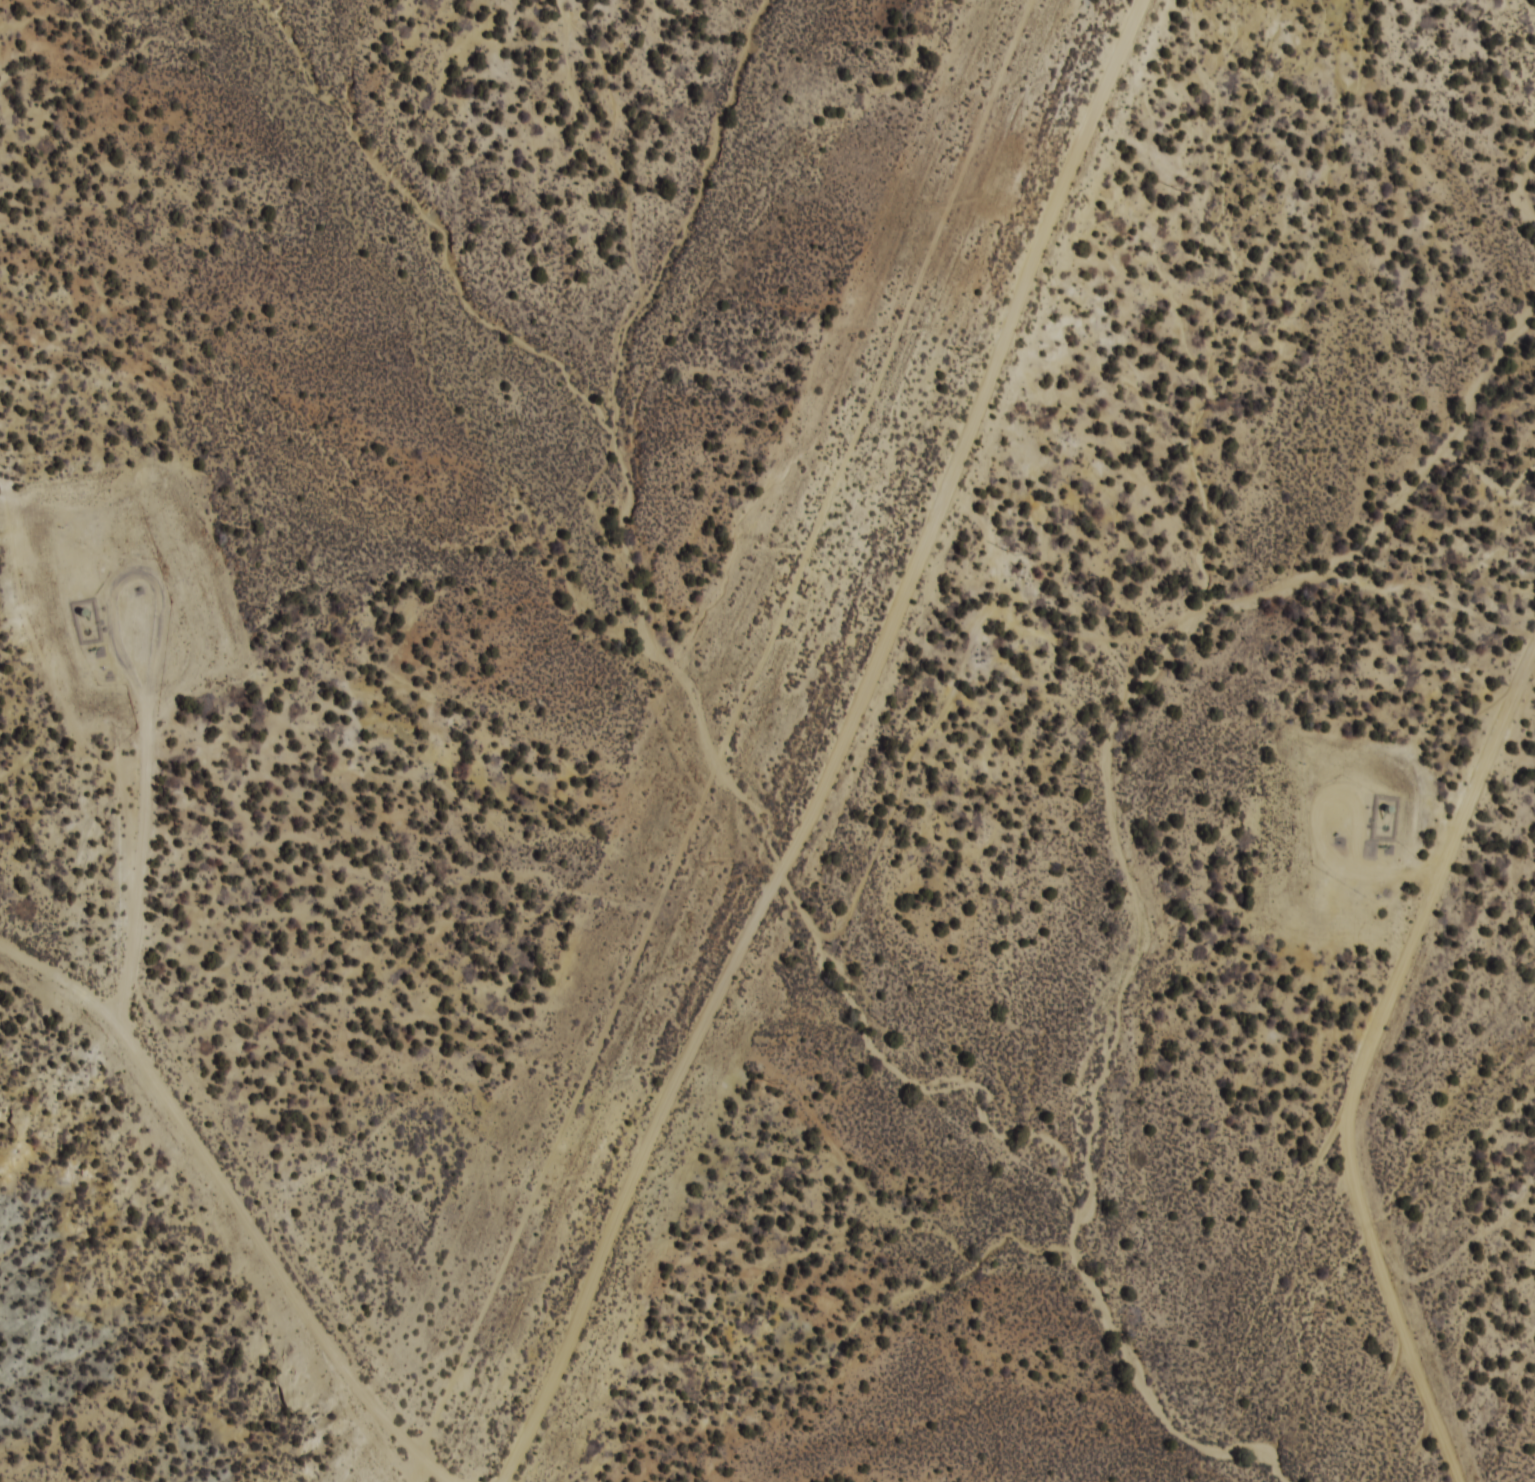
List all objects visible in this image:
road: (839, 749)
building: (1384, 819)
river: (868, 1035)
road: (1379, 1059)
road: (236, 1205)

